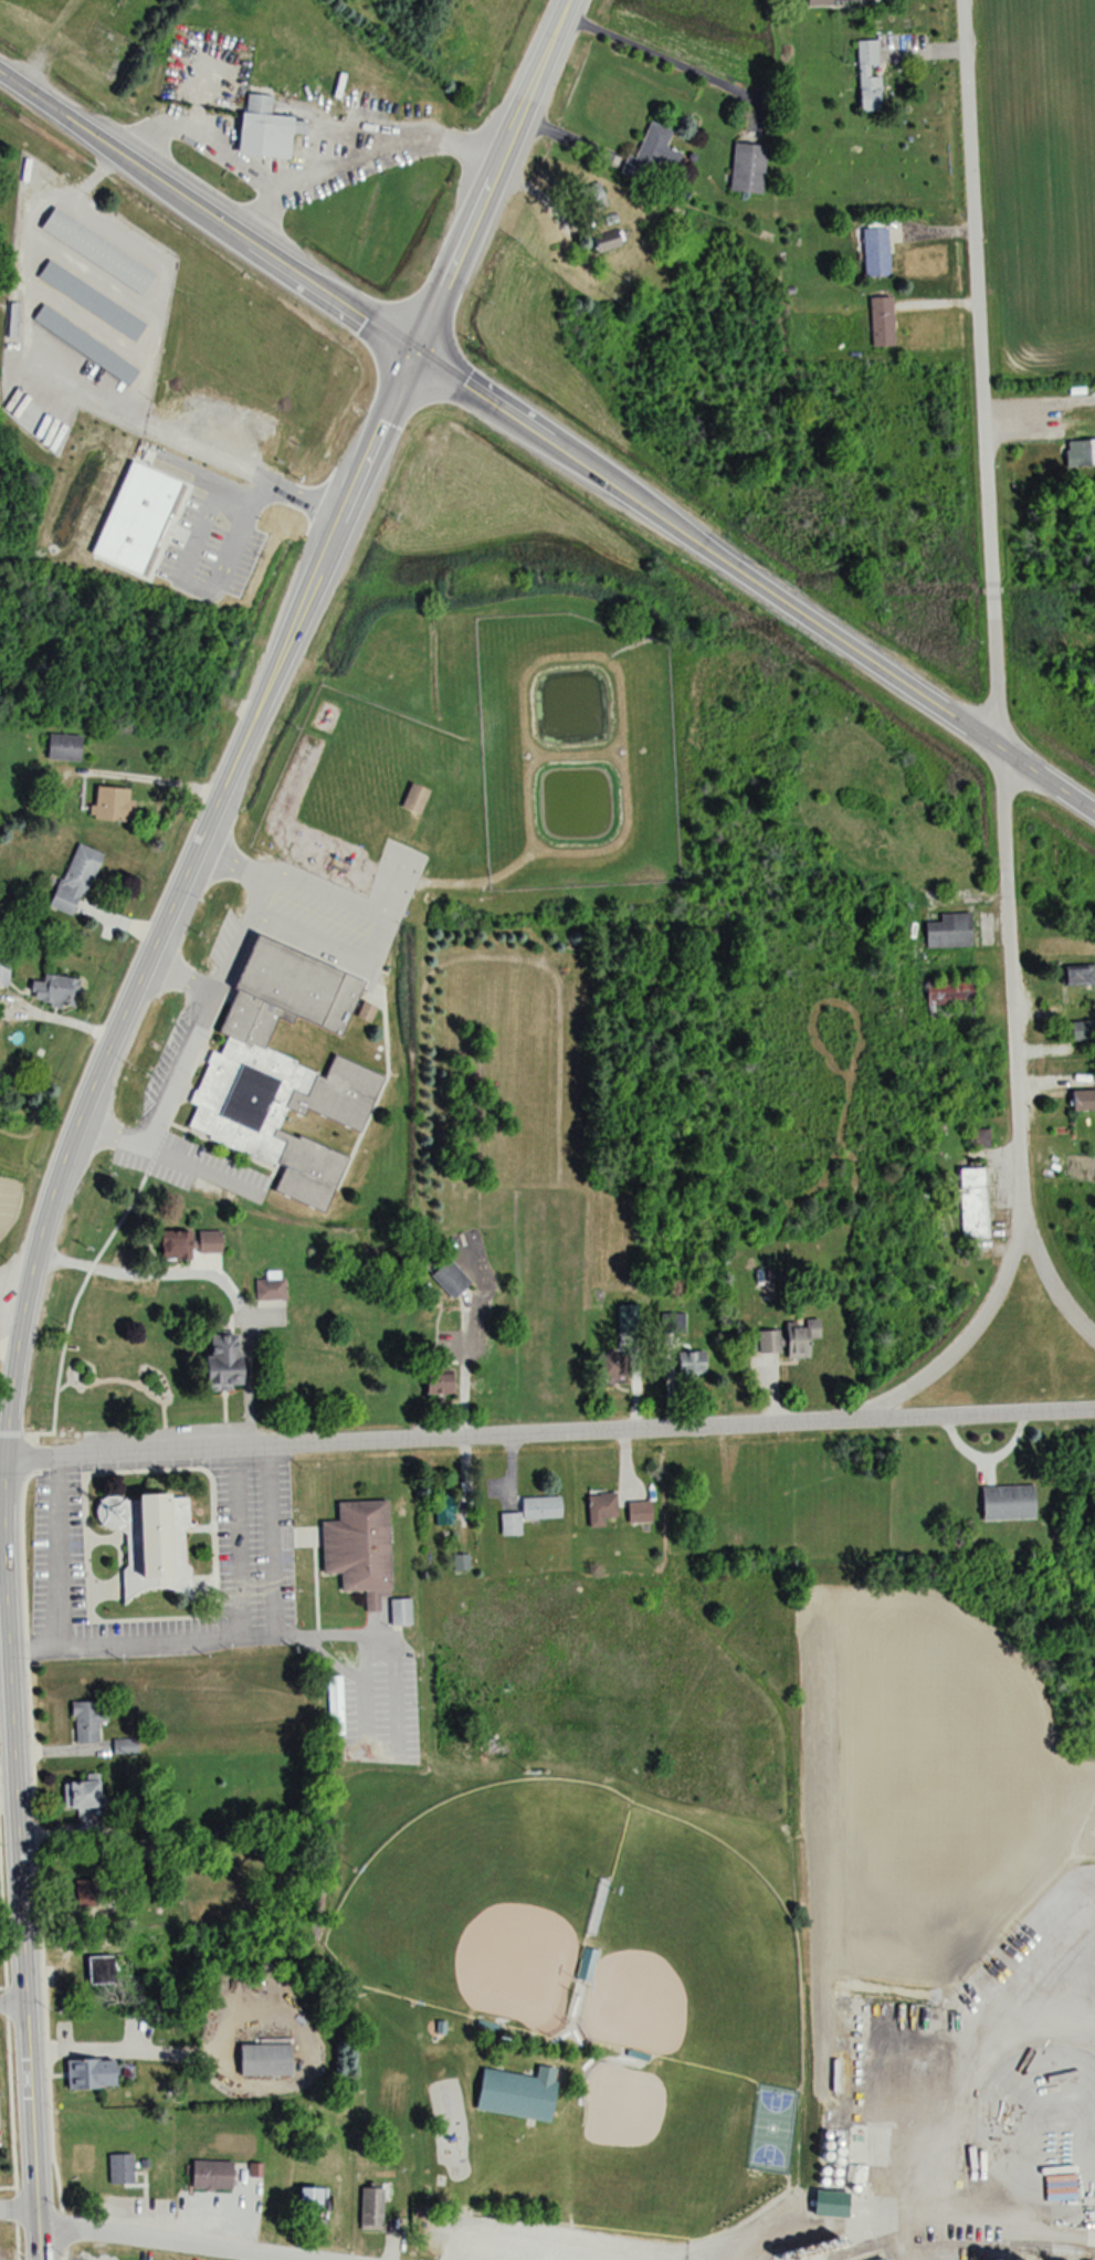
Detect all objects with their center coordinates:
building: (818, 2)
road: (653, 53)
building: (866, 77)
building: (263, 127)
road: (377, 137)
road: (218, 147)
building: (654, 153)
building: (746, 167)
road: (488, 170)
building: (591, 197)
road: (208, 203)
building: (607, 240)
building: (95, 250)
building: (874, 251)
building: (88, 299)
building: (880, 322)
building: (83, 344)
road: (76, 383)
building: (1082, 452)
road: (221, 467)
road: (754, 581)
building: (62, 747)
road: (996, 755)
road: (151, 774)
building: (413, 799)
building: (108, 803)
building: (73, 880)
road: (178, 891)
building: (947, 932)
building: (3, 971)
road: (180, 974)
building: (1077, 976)
building: (53, 990)
building: (947, 998)
road: (202, 1008)
building: (280, 1070)
building: (1082, 1100)
building: (977, 1138)
building: (971, 1203)
building: (173, 1247)
road: (215, 1274)
building: (449, 1276)
road: (1046, 1278)
building: (269, 1290)
building: (673, 1324)
building: (798, 1338)
building: (767, 1342)
building: (218, 1362)
building: (688, 1364)
building: (612, 1369)
road: (456, 1370)
building: (435, 1379)
road: (549, 1433)
road: (2, 1458)
building: (1007, 1502)
building: (443, 1507)
building: (599, 1509)
building: (528, 1513)
building: (638, 1513)
building: (147, 1539)
road: (52, 1549)
building: (357, 1549)
road: (224, 1632)
building: (334, 1706)
building: (84, 1722)
building: (83, 1807)
road: (18, 1858)
park: (484, 1904)
park: (689, 1961)
building: (103, 1968)
road: (12, 2003)
building: (263, 2059)
building: (90, 2075)
building: (514, 2096)
park: (678, 2144)
building: (118, 2169)
building: (209, 2176)
building: (306, 2200)
building: (828, 2205)
building: (369, 2209)
road: (156, 2236)
railway: (969, 2243)
railway: (1012, 2250)
building: (877, 2259)

